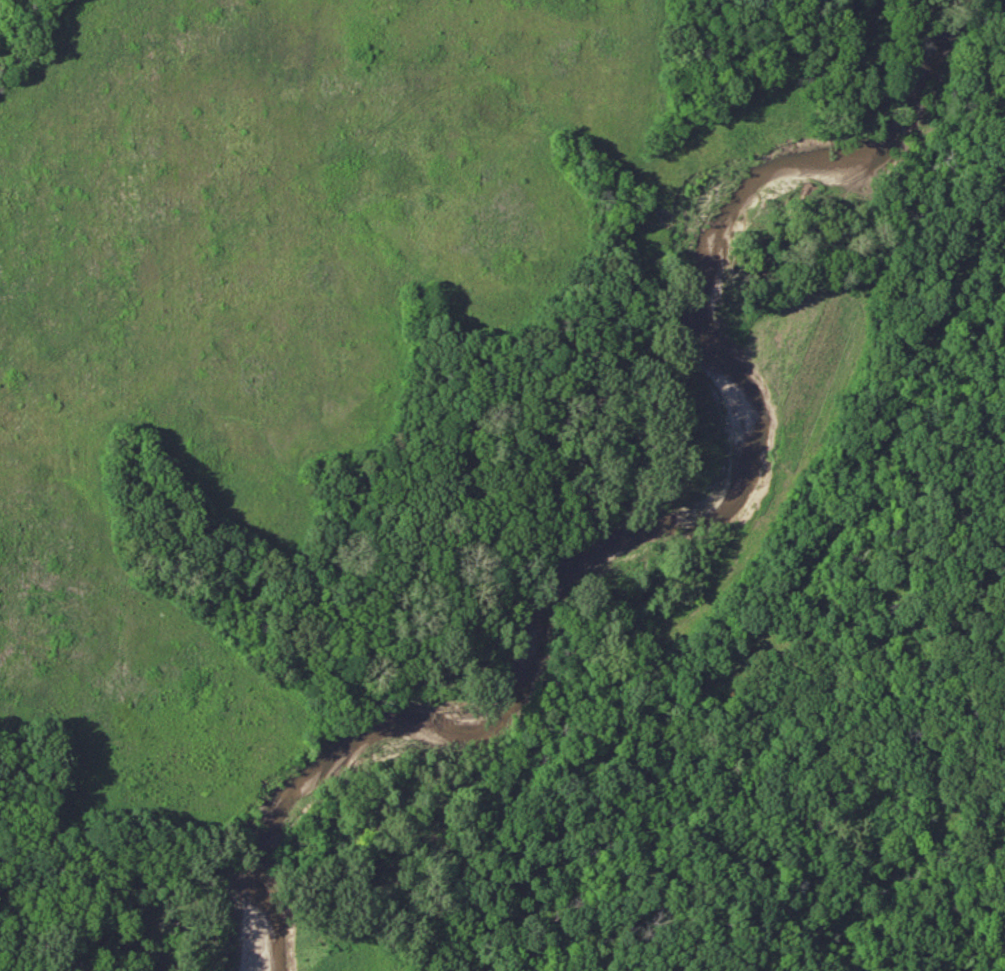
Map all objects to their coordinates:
river: (696, 576)

